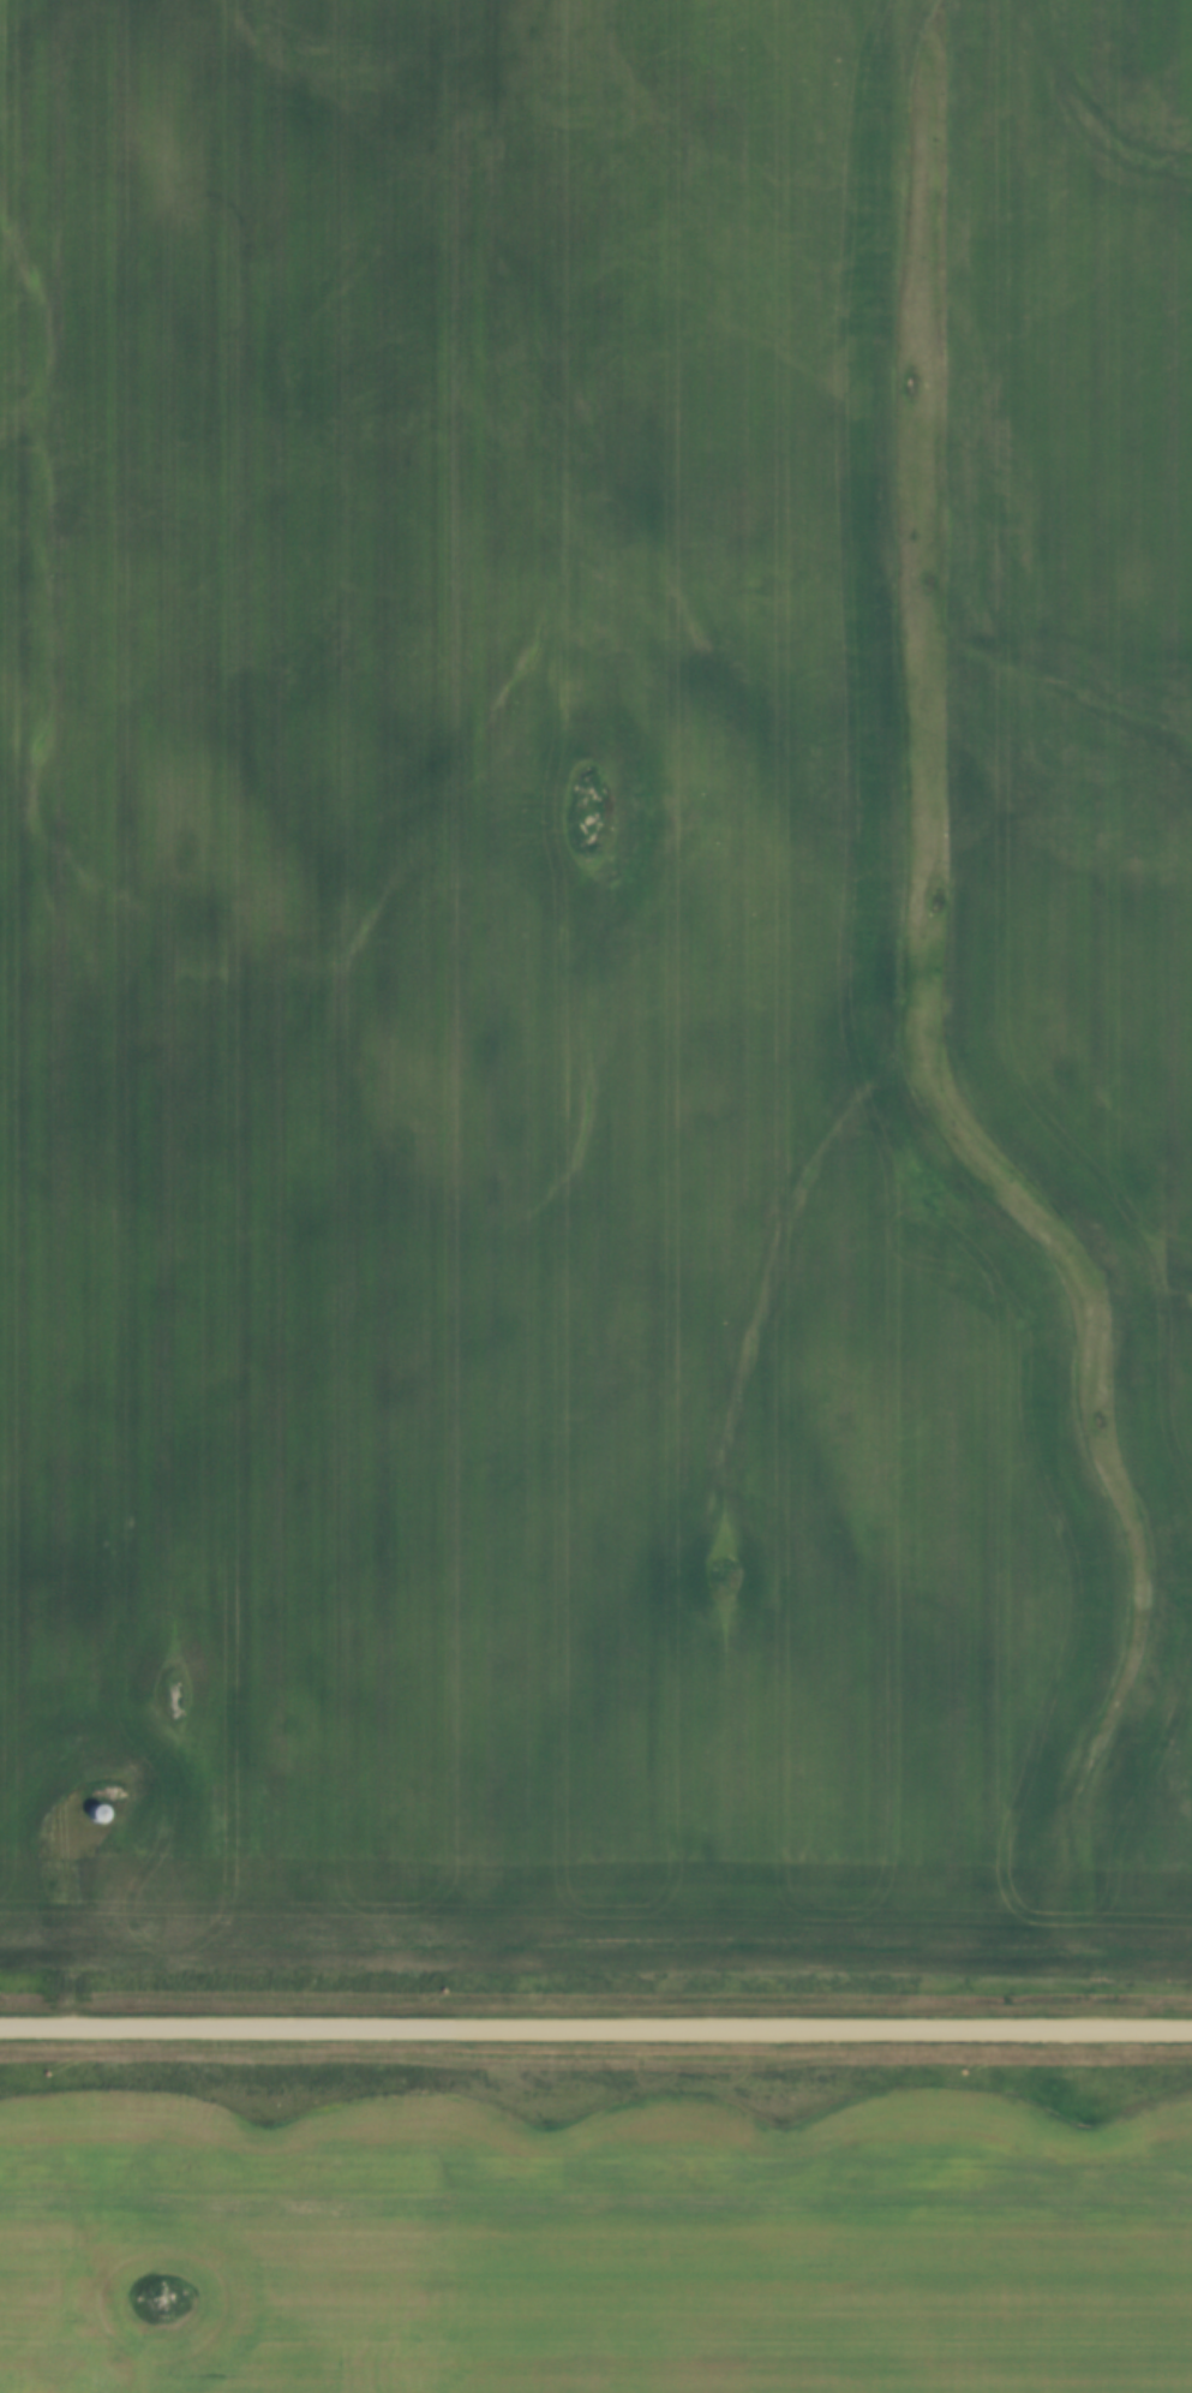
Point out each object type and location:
building: (86, 1813)
road: (68, 1916)
road: (595, 2025)

